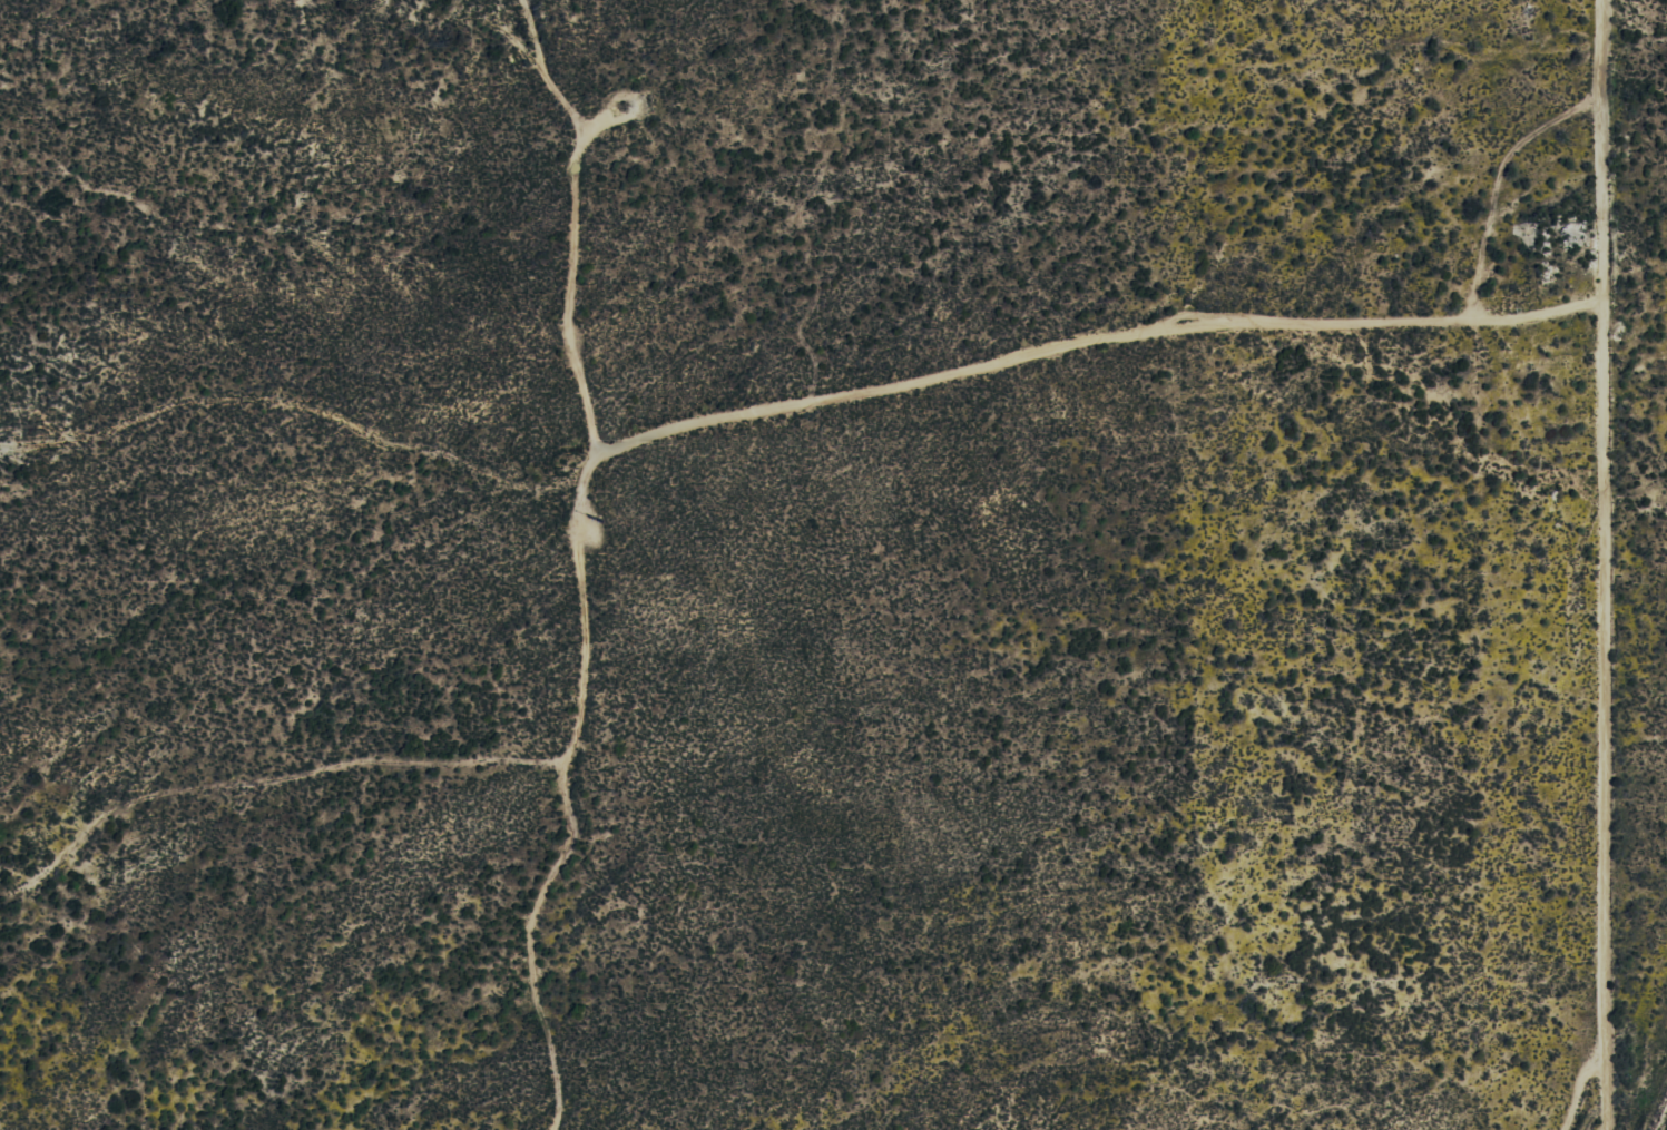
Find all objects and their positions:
road: (1605, 564)
railway: (1660, 1116)

